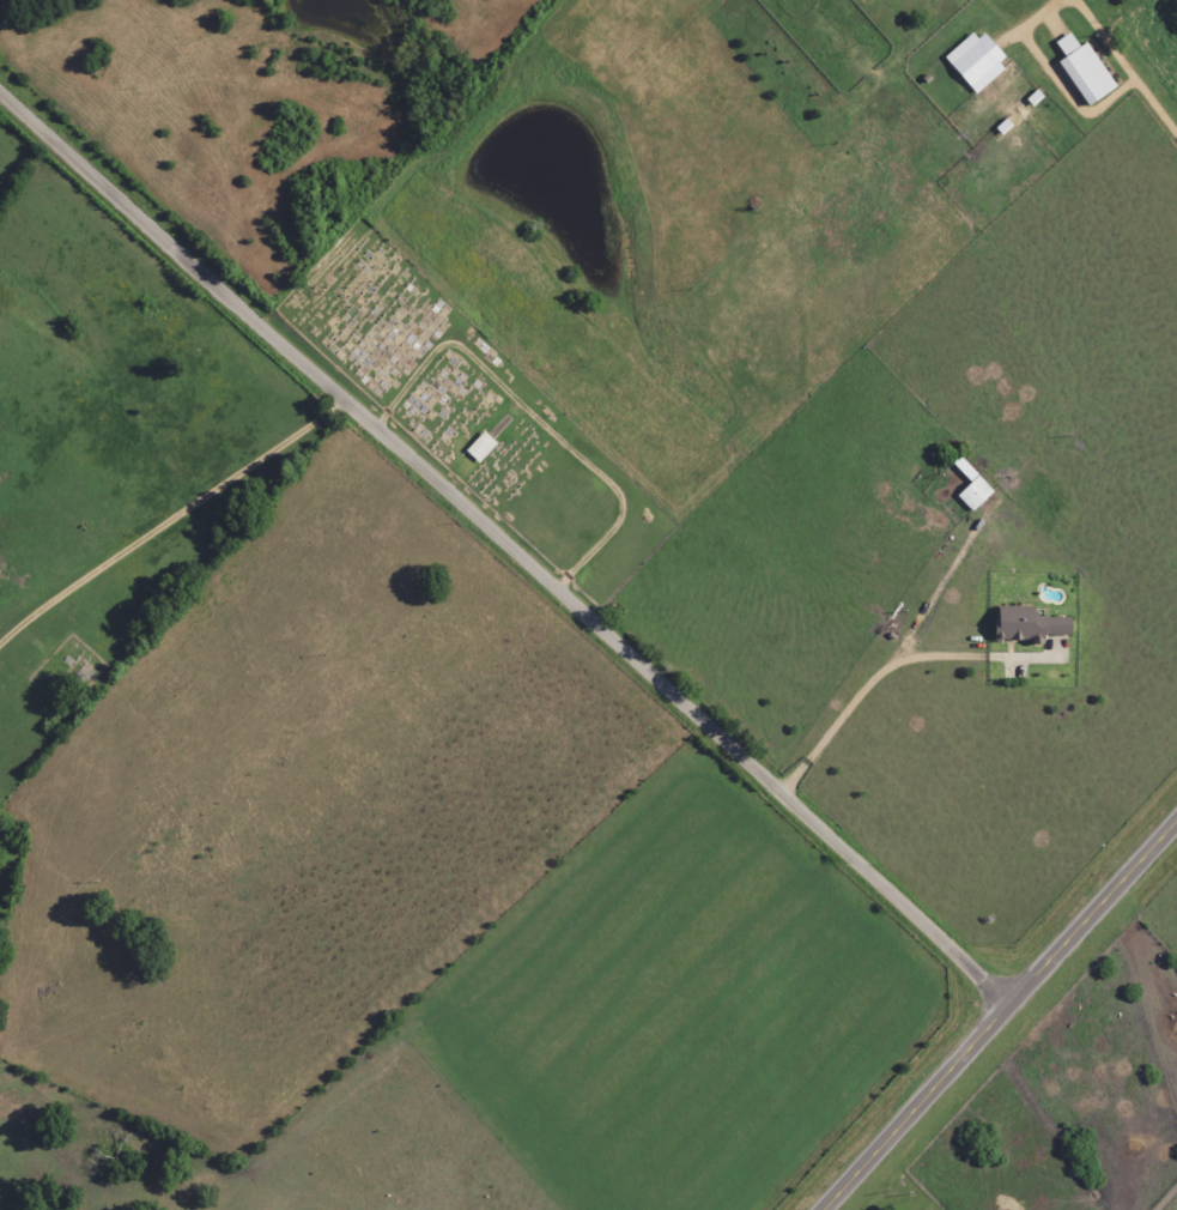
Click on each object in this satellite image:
road: (1146, 48)
building: (976, 61)
building: (1085, 71)
park: (469, 412)
building: (481, 448)
building: (972, 488)
road: (164, 495)
road: (503, 546)
building: (1029, 625)
road: (880, 671)
park: (60, 674)
road: (1001, 1014)

